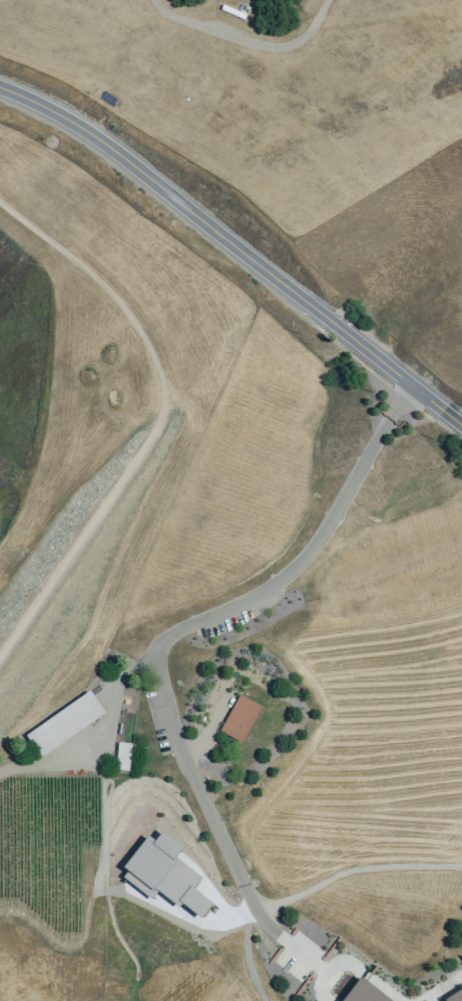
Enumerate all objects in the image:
road: (246, 40)
road: (237, 245)
road: (161, 419)
dam: (78, 559)
road: (196, 623)
road: (112, 704)
building: (240, 718)
building: (64, 724)
building: (123, 756)
road: (35, 763)
road: (356, 868)
building: (163, 874)
road: (231, 917)
road: (324, 969)
road: (442, 988)
building: (364, 993)
building: (454, 995)

